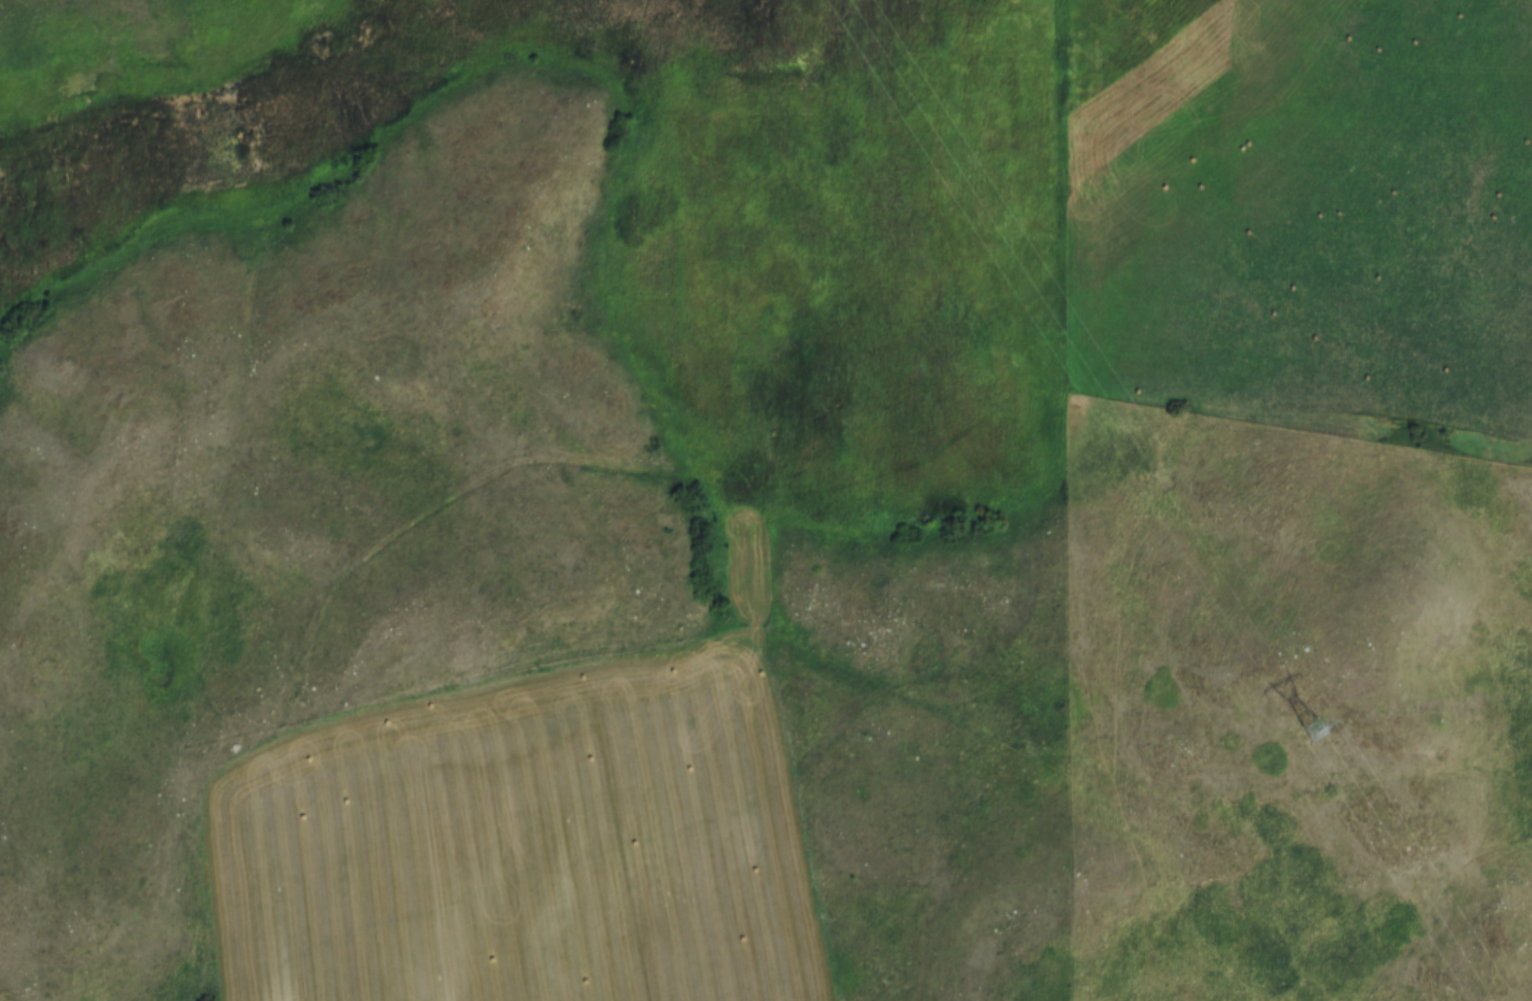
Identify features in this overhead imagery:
crop: (1305, 209)
power tower: (1315, 737)

